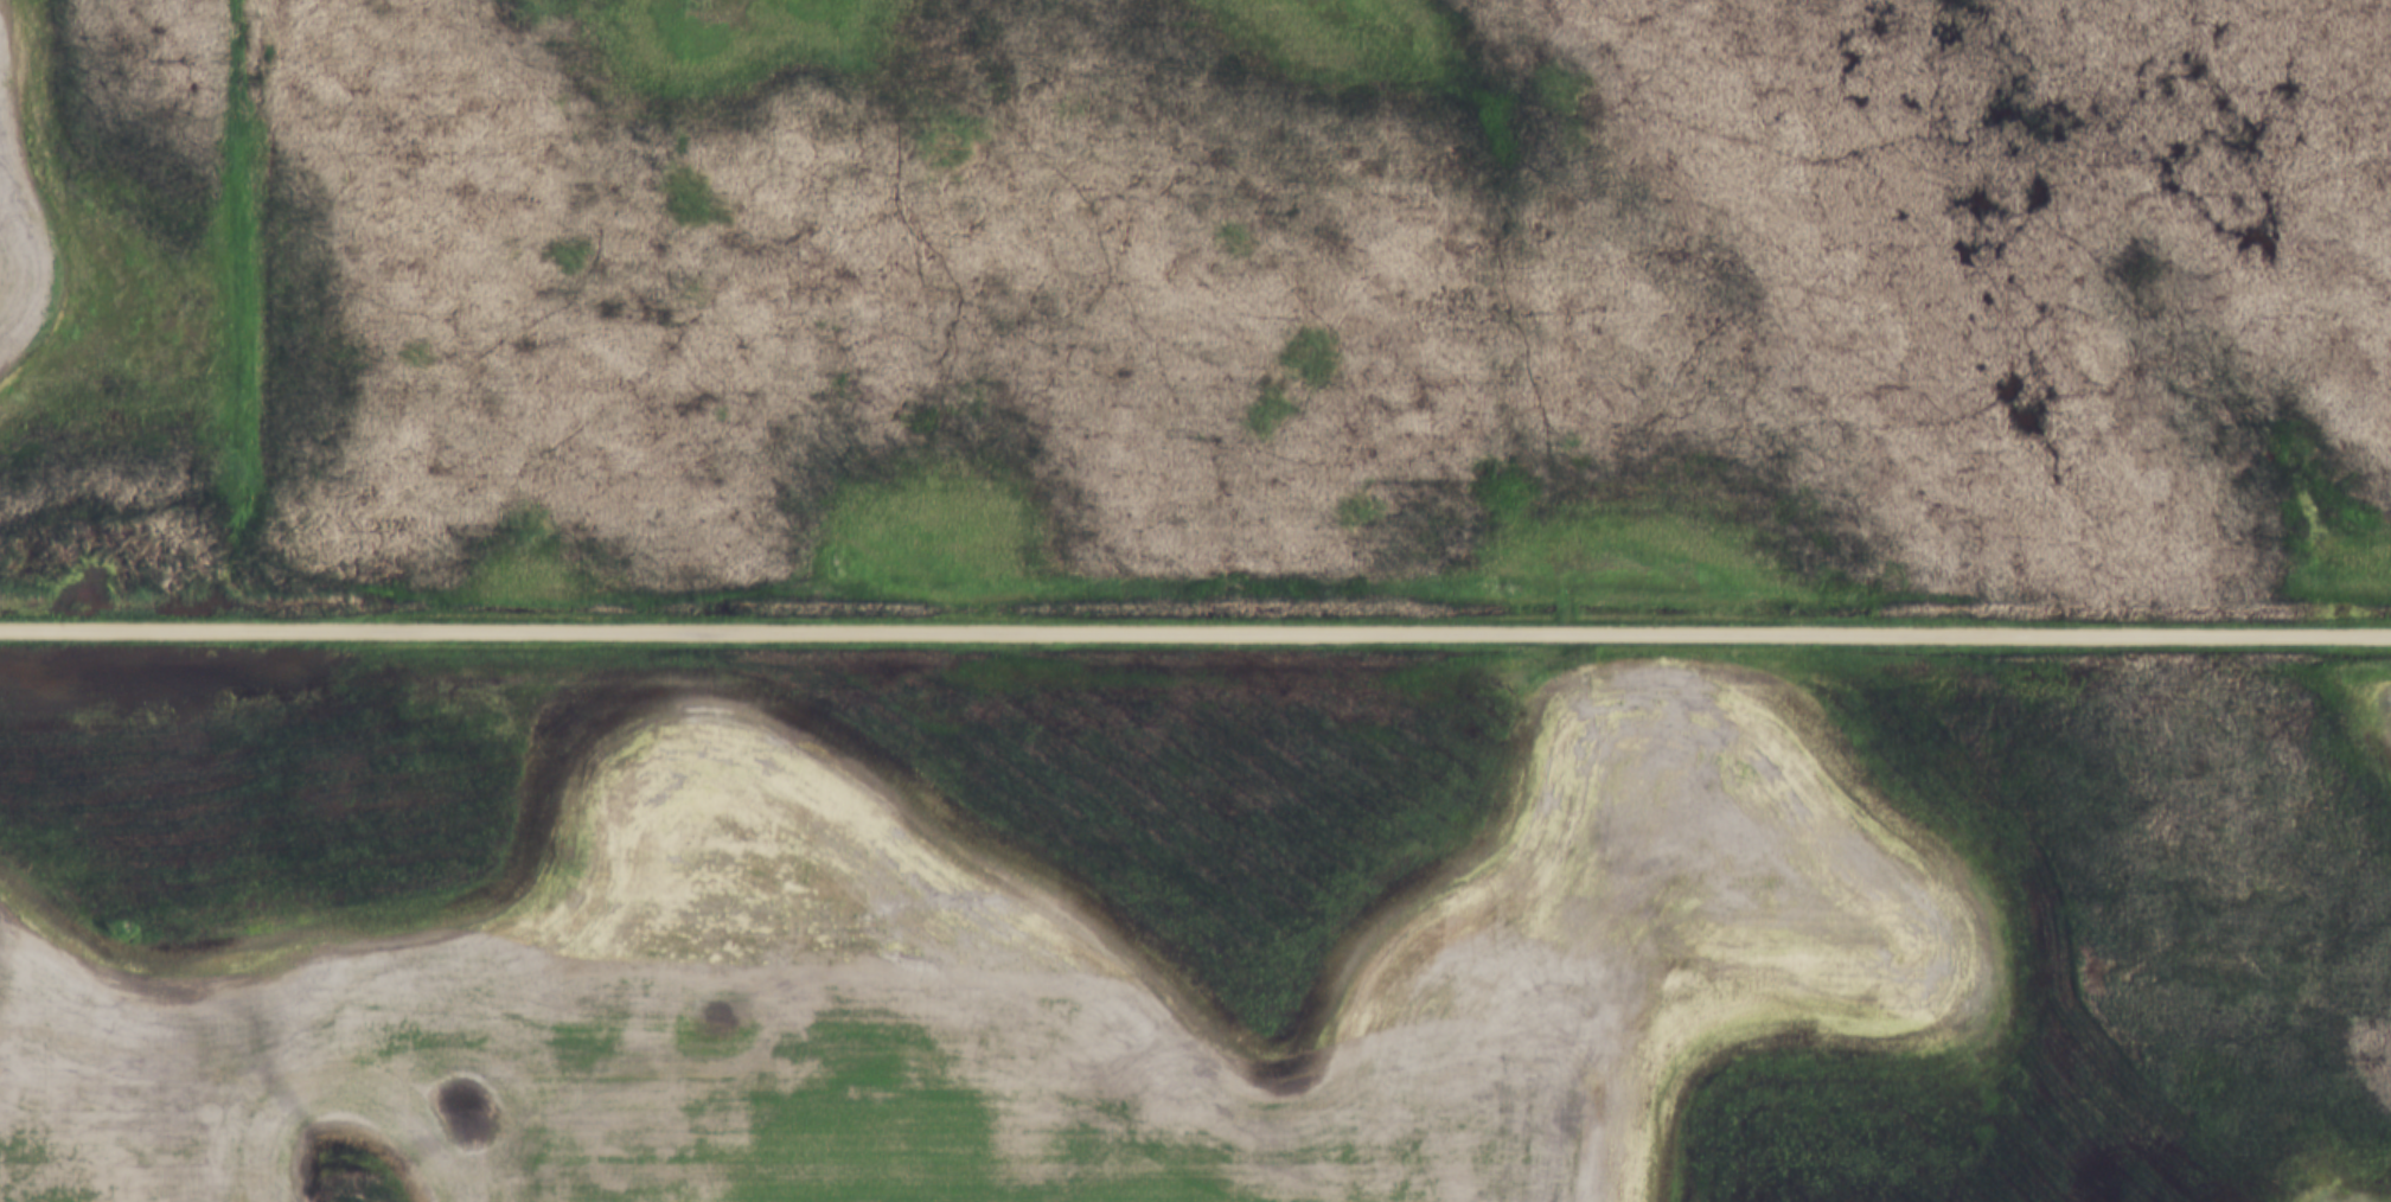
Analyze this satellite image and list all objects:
road: (1195, 634)

